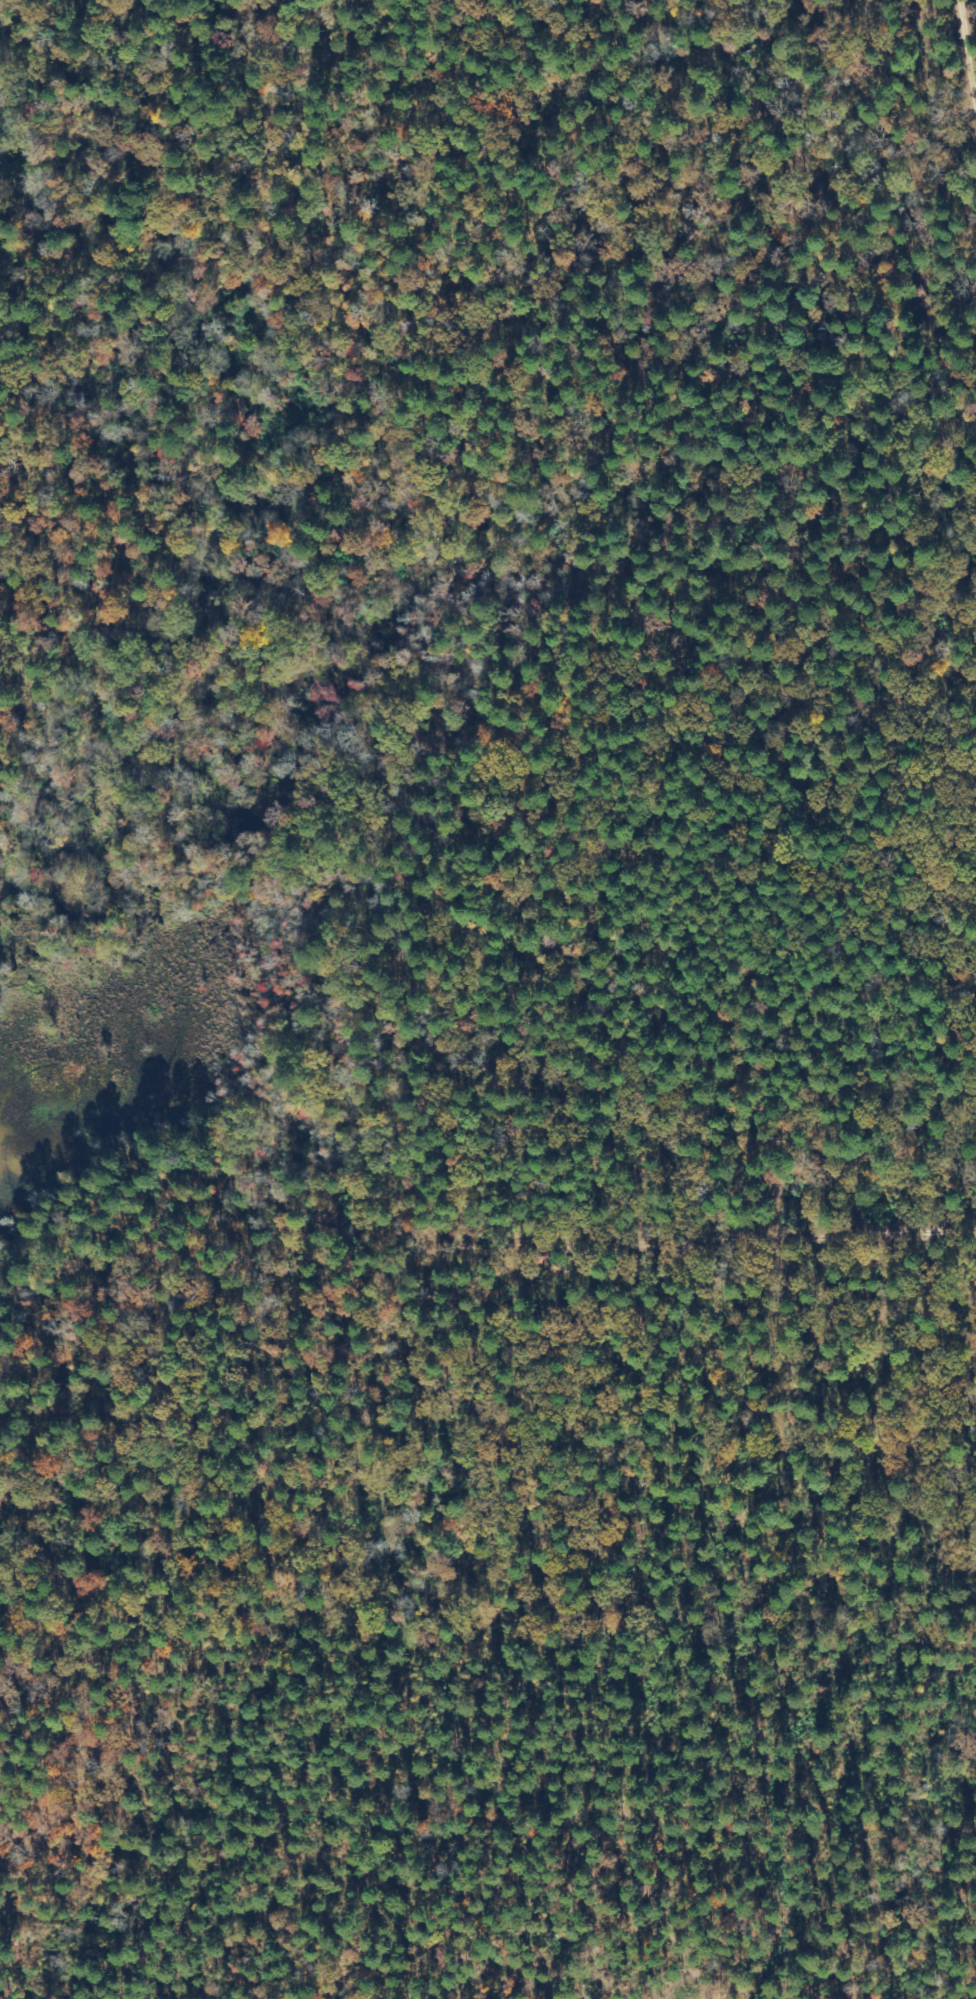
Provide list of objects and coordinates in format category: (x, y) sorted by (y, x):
road: (934, 103)
road: (565, 1270)

